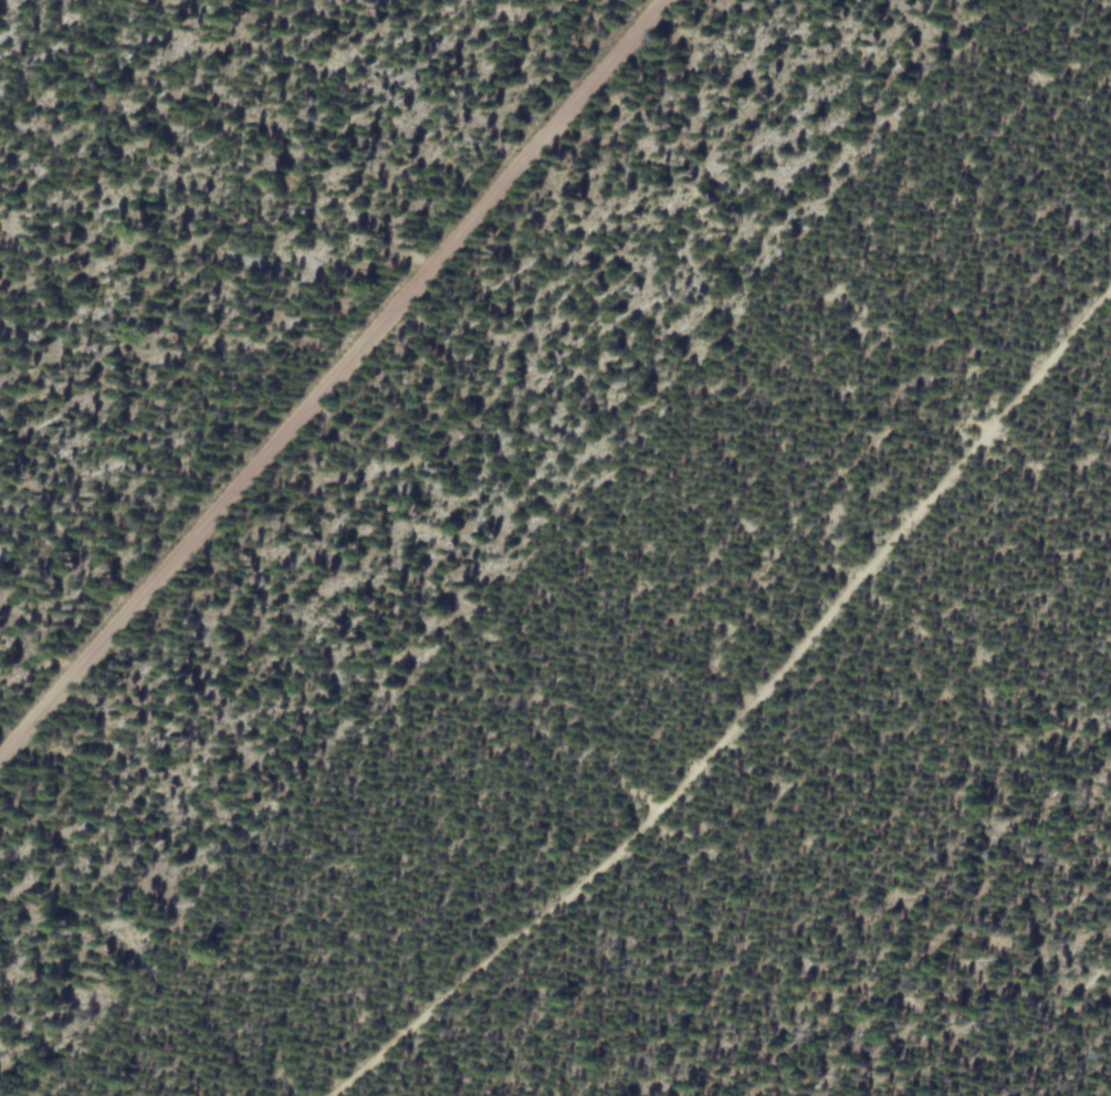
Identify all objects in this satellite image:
road: (332, 379)
road: (742, 714)

